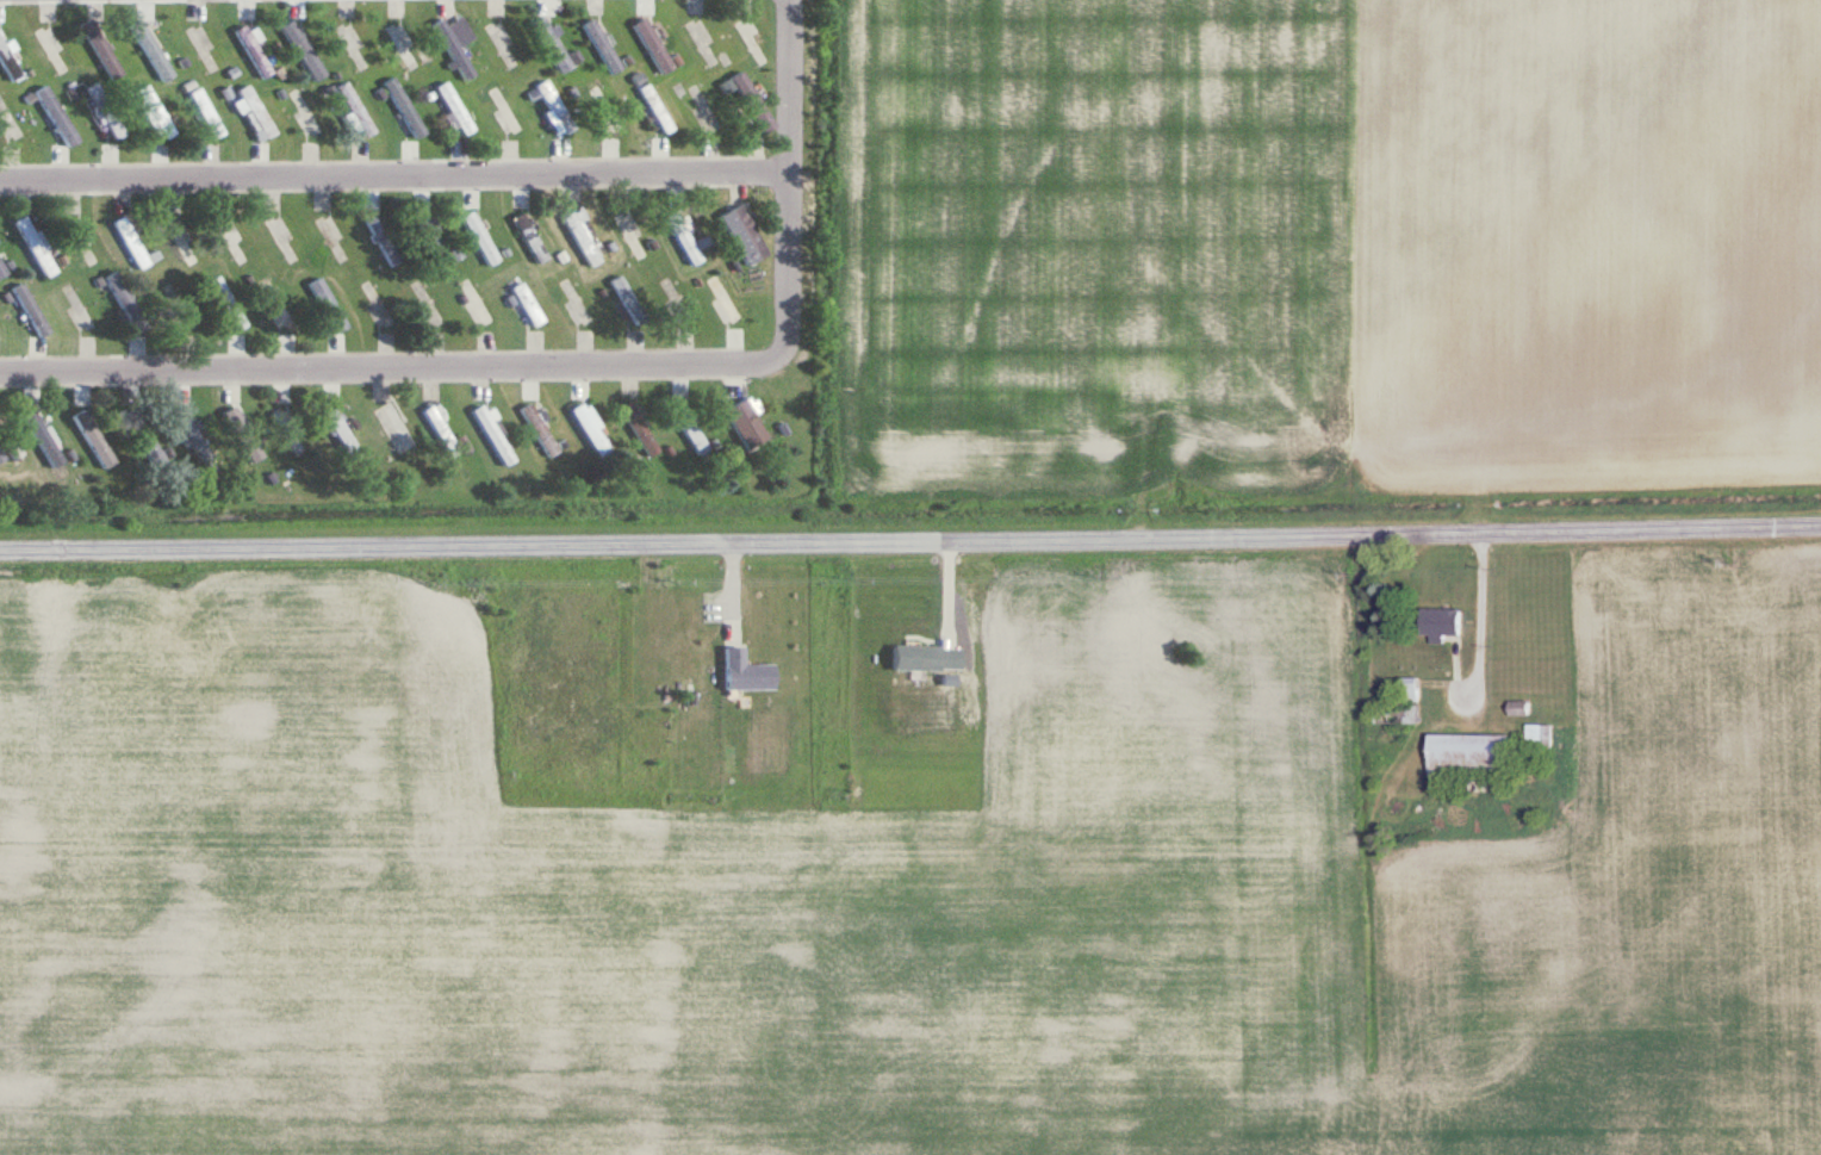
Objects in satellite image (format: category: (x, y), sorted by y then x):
building: (752, 41)
building: (402, 42)
building: (703, 42)
building: (502, 43)
building: (551, 43)
building: (653, 44)
building: (353, 45)
building: (603, 45)
building: (100, 46)
building: (201, 48)
building: (453, 48)
building: (303, 49)
building: (154, 50)
building: (254, 50)
building: (54, 52)
building: (10, 61)
building: (231, 67)
building: (752, 100)
building: (605, 104)
building: (706, 104)
building: (506, 105)
building: (557, 105)
building: (404, 106)
building: (456, 106)
building: (658, 107)
building: (307, 108)
building: (356, 108)
building: (157, 110)
building: (259, 110)
building: (107, 111)
building: (207, 112)
building: (57, 114)
building: (12, 118)
road: (393, 175)
road: (788, 180)
building: (740, 231)
building: (633, 235)
building: (481, 236)
building: (530, 236)
building: (431, 237)
building: (583, 237)
building: (182, 238)
building: (685, 238)
building: (384, 240)
building: (131, 241)
building: (232, 241)
building: (282, 241)
building: (82, 243)
building: (36, 244)
building: (2, 268)
building: (124, 297)
building: (629, 298)
building: (727, 298)
building: (479, 299)
building: (229, 300)
building: (680, 300)
building: (579, 302)
building: (279, 303)
building: (381, 303)
building: (529, 303)
building: (181, 304)
building: (328, 304)
building: (30, 308)
building: (80, 316)
road: (387, 367)
building: (1155, 386)
building: (397, 427)
building: (690, 427)
building: (740, 427)
building: (591, 428)
building: (640, 428)
building: (540, 429)
building: (291, 430)
building: (443, 430)
building: (142, 431)
building: (343, 431)
building: (42, 433)
building: (193, 434)
building: (495, 434)
building: (94, 436)
building: (242, 437)
building: (2, 454)
road: (910, 538)
road: (1477, 607)
building: (1448, 623)
building: (927, 658)
building: (746, 671)
building: (1416, 690)
building: (1542, 735)
building: (1477, 756)

